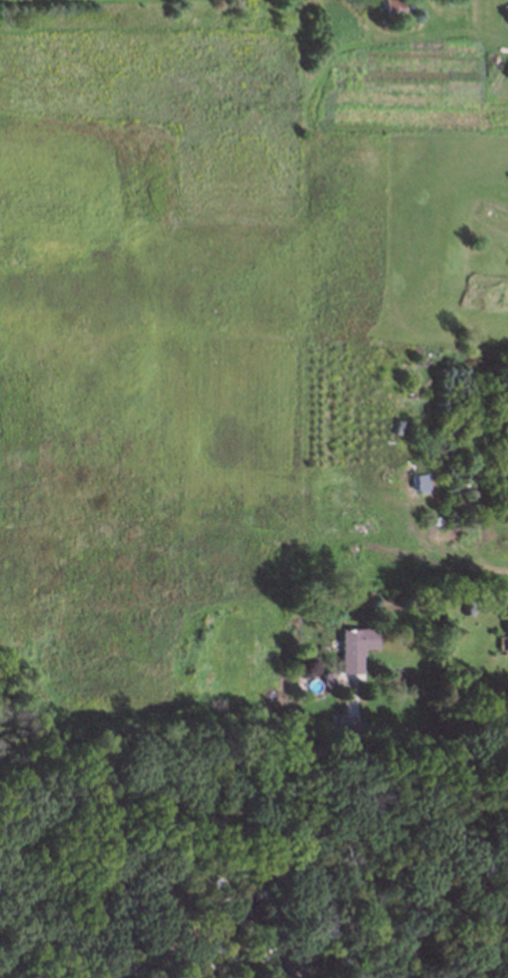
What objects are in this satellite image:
building: (390, 8)
building: (464, 607)
building: (507, 630)
building: (350, 645)
building: (325, 677)
road: (424, 726)
road: (410, 902)
building: (254, 914)
building: (105, 918)
building: (278, 971)

